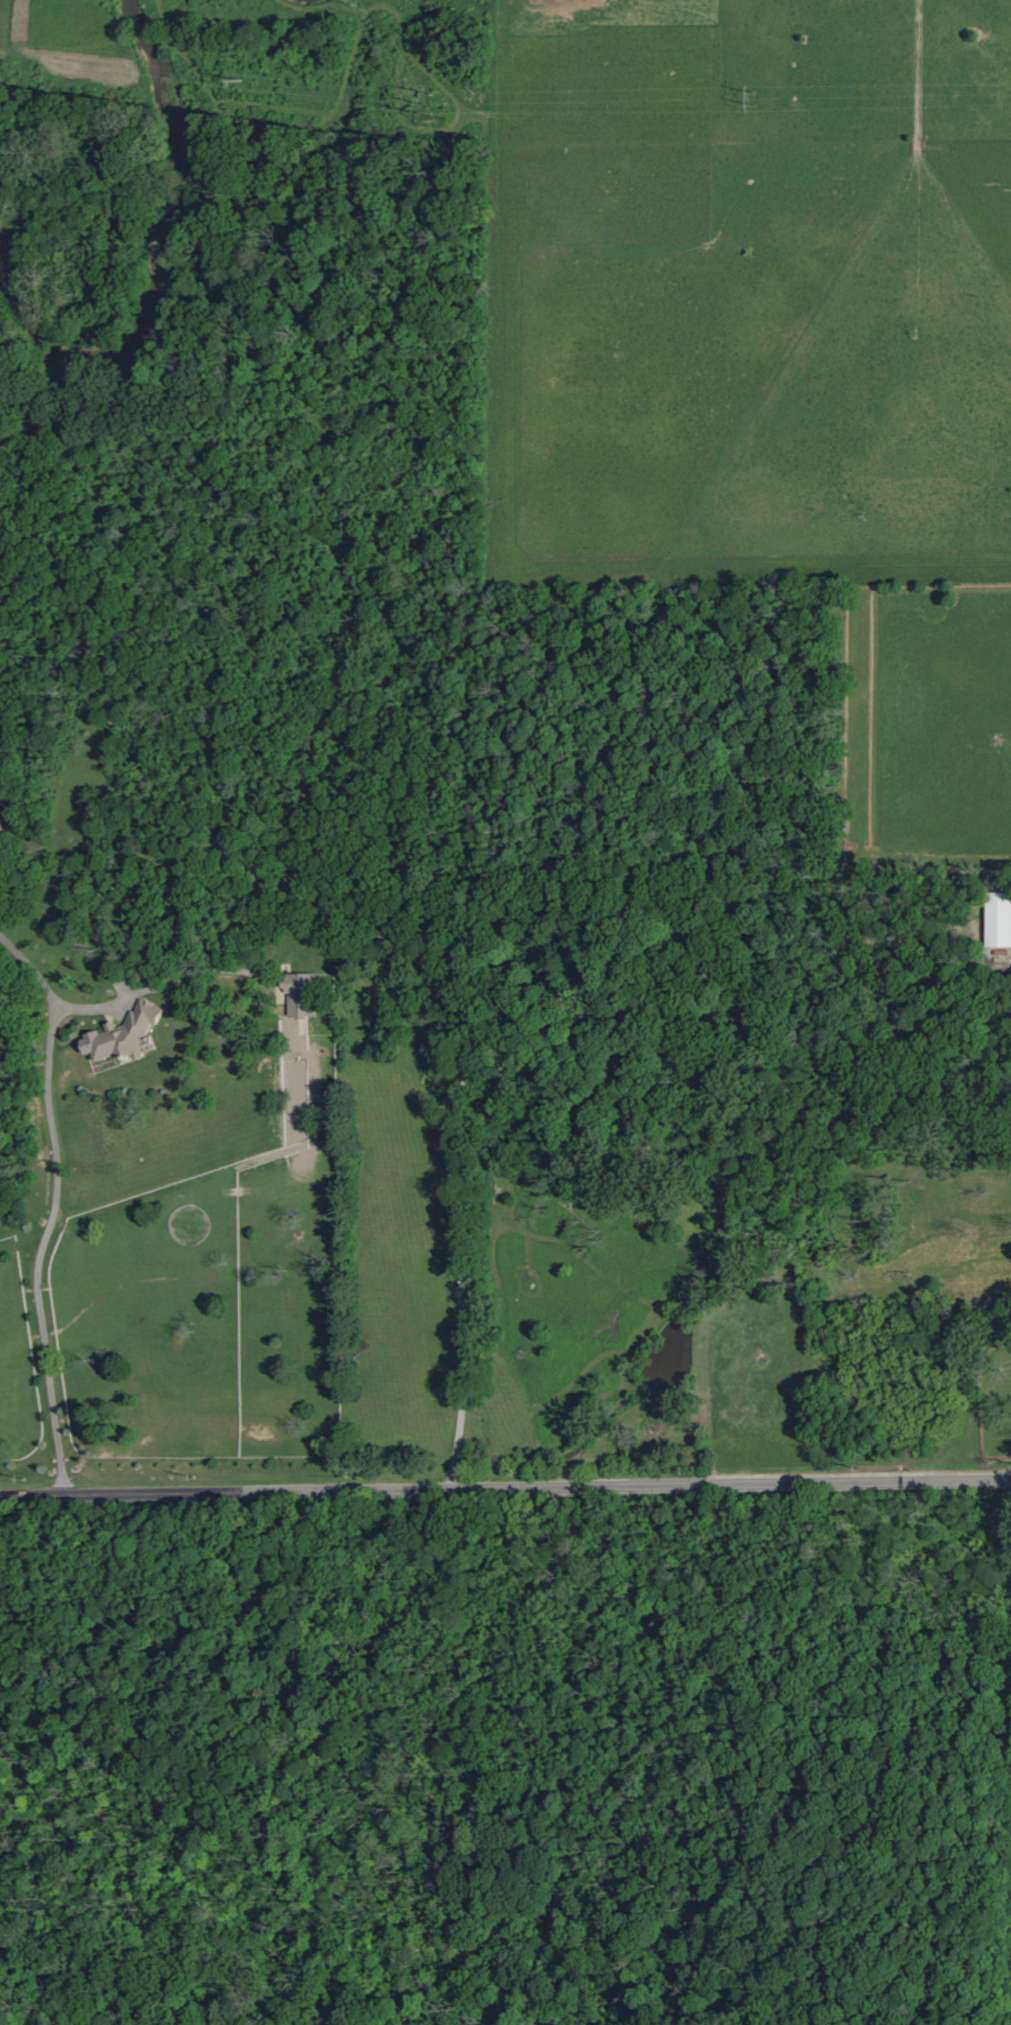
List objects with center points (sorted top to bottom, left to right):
power tower: (755, 99)
power tower: (430, 102)
building: (998, 919)
building: (299, 994)
building: (126, 1033)
road: (48, 1220)
road: (457, 1222)
road: (505, 1488)

